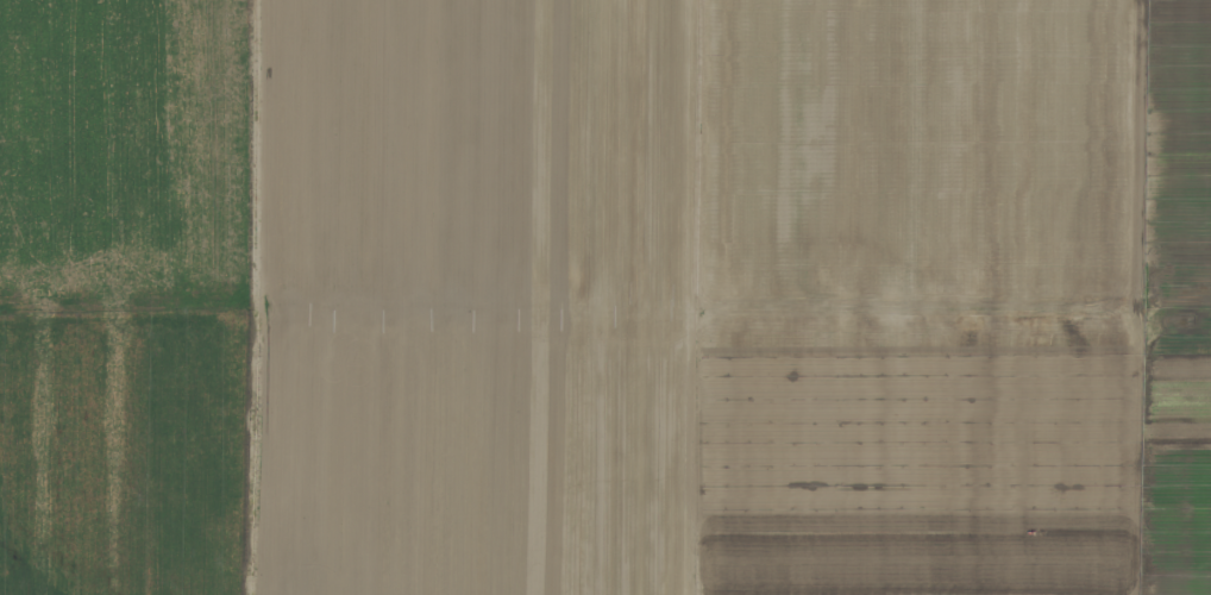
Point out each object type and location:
crop: (605, 297)

